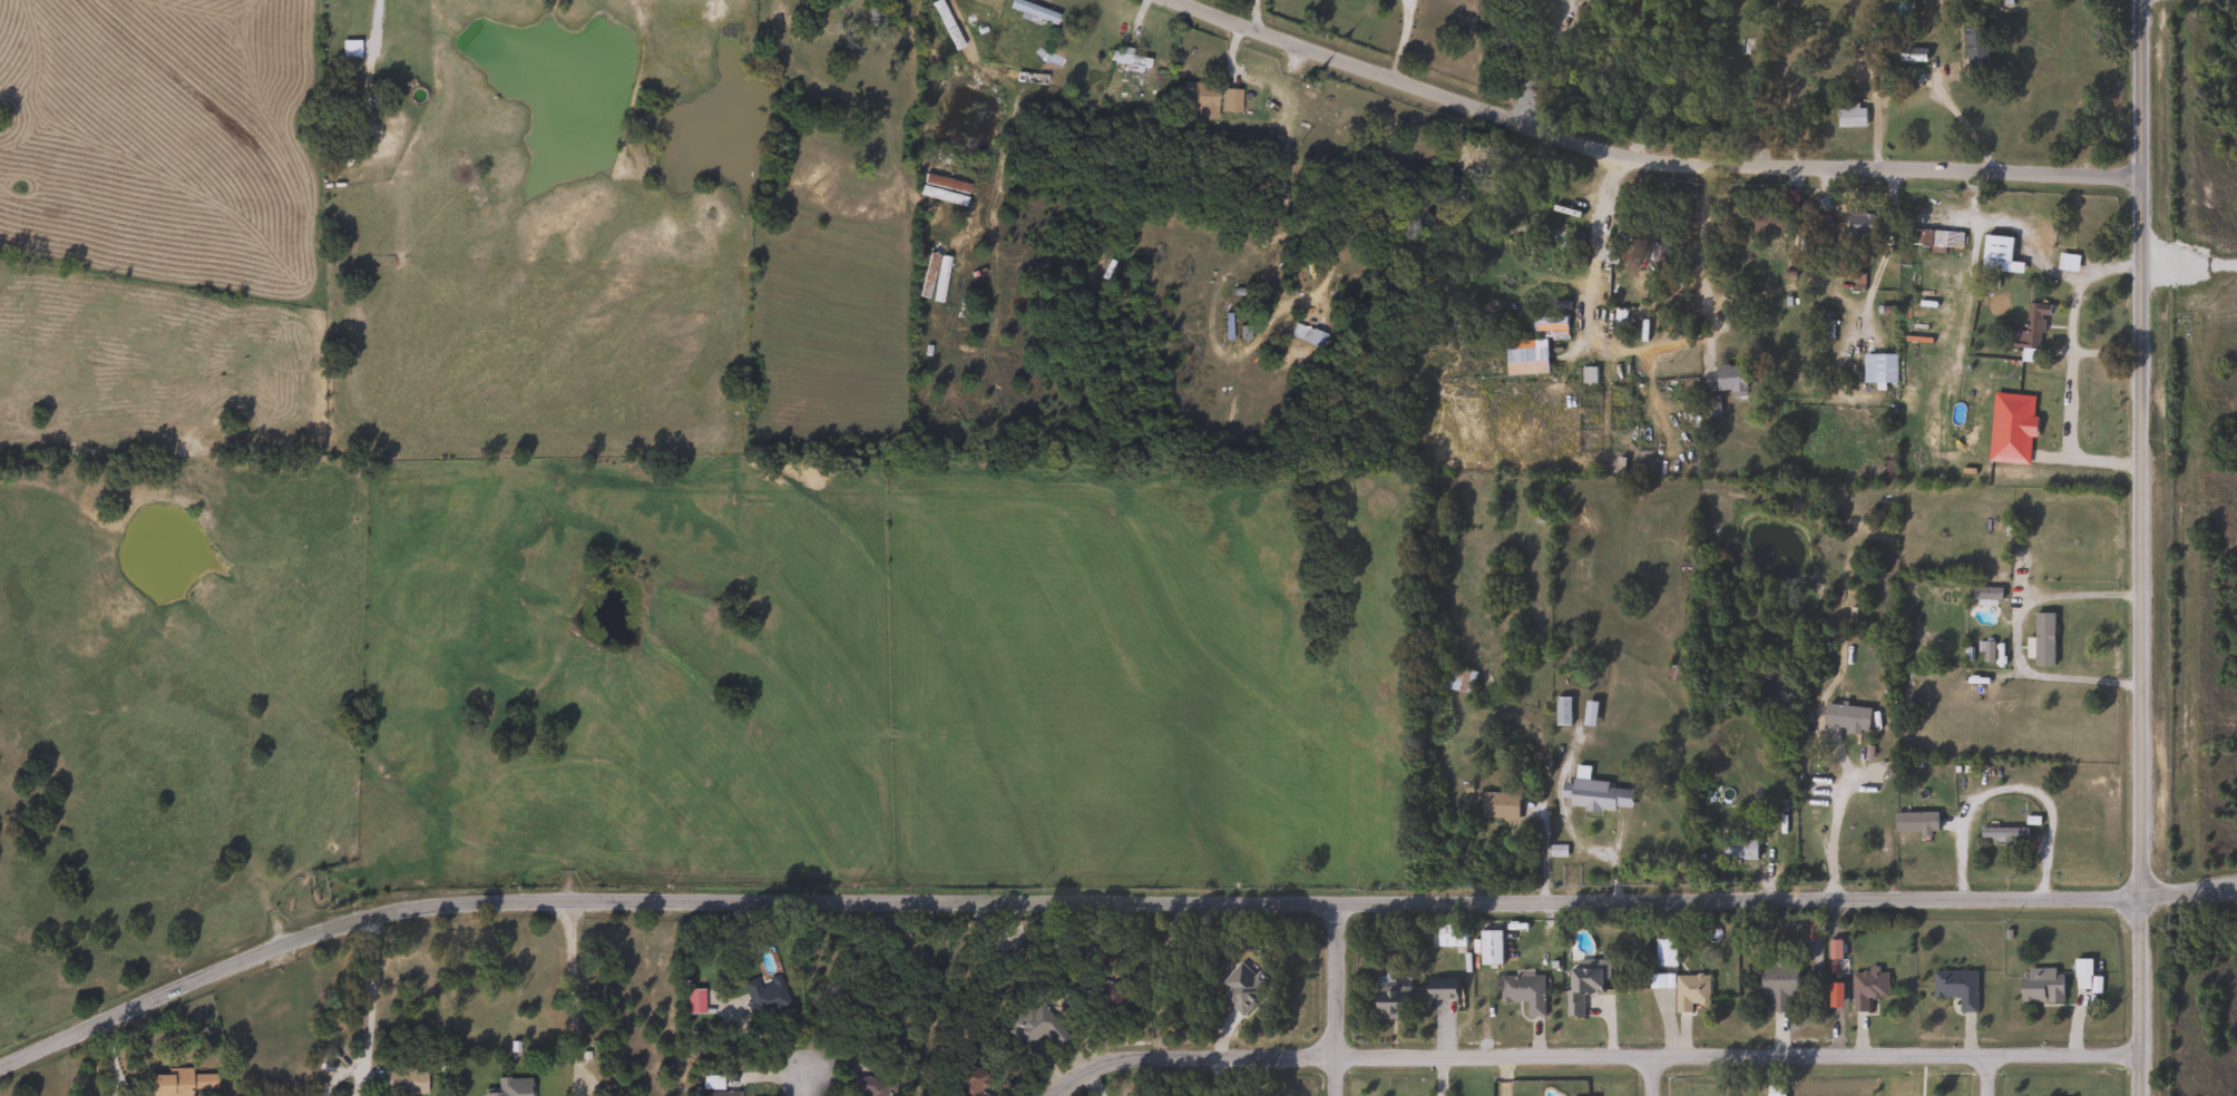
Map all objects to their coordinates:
road: (1180, 2)
building: (1911, 7)
building: (1030, 11)
road: (1398, 39)
building: (1975, 48)
building: (1125, 59)
road: (1541, 61)
building: (1195, 99)
building: (1227, 101)
building: (1850, 116)
road: (1970, 124)
road: (1640, 156)
building: (1788, 198)
building: (1772, 223)
building: (1860, 224)
building: (1821, 229)
building: (1932, 238)
building: (1996, 254)
building: (2065, 262)
building: (1549, 323)
building: (2030, 334)
building: (1310, 337)
road: (2107, 348)
road: (1637, 350)
building: (1525, 356)
road: (2071, 366)
building: (1879, 368)
building: (1729, 378)
road: (2142, 548)
building: (1985, 593)
road: (2014, 638)
building: (2043, 639)
building: (1459, 678)
building: (1562, 710)
building: (1853, 717)
road: (2009, 785)
building: (1598, 793)
building: (1498, 805)
building: (1915, 822)
building: (2002, 833)
road: (1831, 834)
building: (1738, 849)
road: (1102, 901)
building: (1449, 934)
building: (1488, 947)
building: (1664, 952)
building: (2081, 973)
building: (1657, 980)
building: (1583, 981)
building: (1777, 984)
building: (2040, 985)
building: (1241, 987)
building: (1866, 987)
building: (1955, 987)
road: (369, 988)
building: (1439, 989)
road: (569, 990)
building: (1523, 991)
building: (1690, 991)
building: (763, 995)
building: (1389, 997)
building: (693, 1000)
road: (1337, 1000)
building: (1034, 1028)
road: (1586, 1054)
road: (1652, 1075)
road: (1987, 1075)
building: (400, 1080)
road: (805, 1082)
building: (968, 1082)
building: (179, 1083)
building: (527, 1083)
building: (866, 1086)
building: (1775, 1090)
building: (721, 1093)

